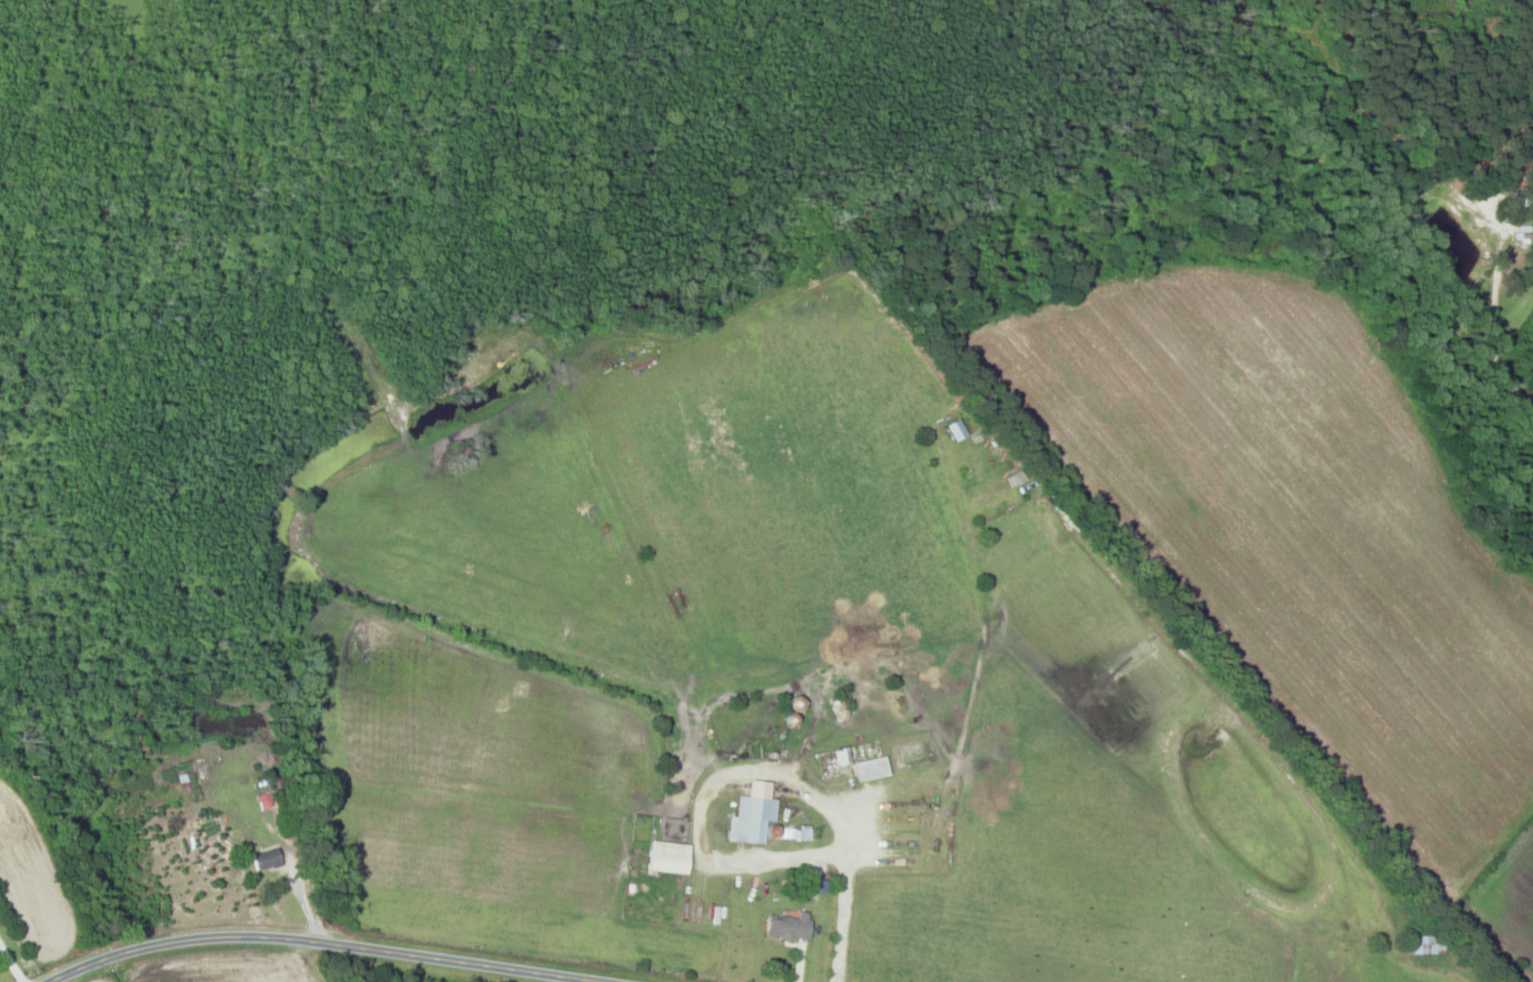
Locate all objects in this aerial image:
road: (1482, 362)
building: (996, 497)
building: (871, 769)
building: (202, 770)
building: (752, 819)
building: (805, 832)
building: (670, 858)
building: (268, 860)
building: (790, 927)
road: (327, 942)
building: (1428, 945)

